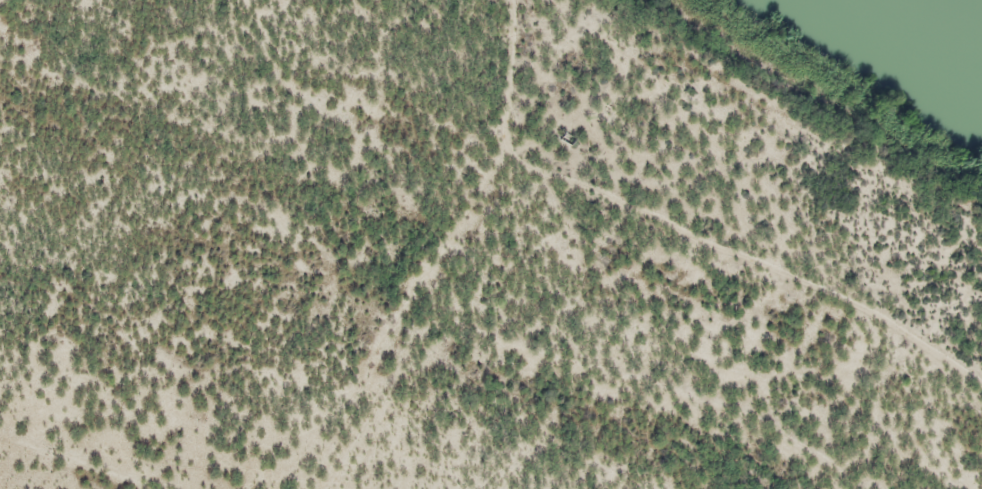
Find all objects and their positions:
river: (942, 26)

